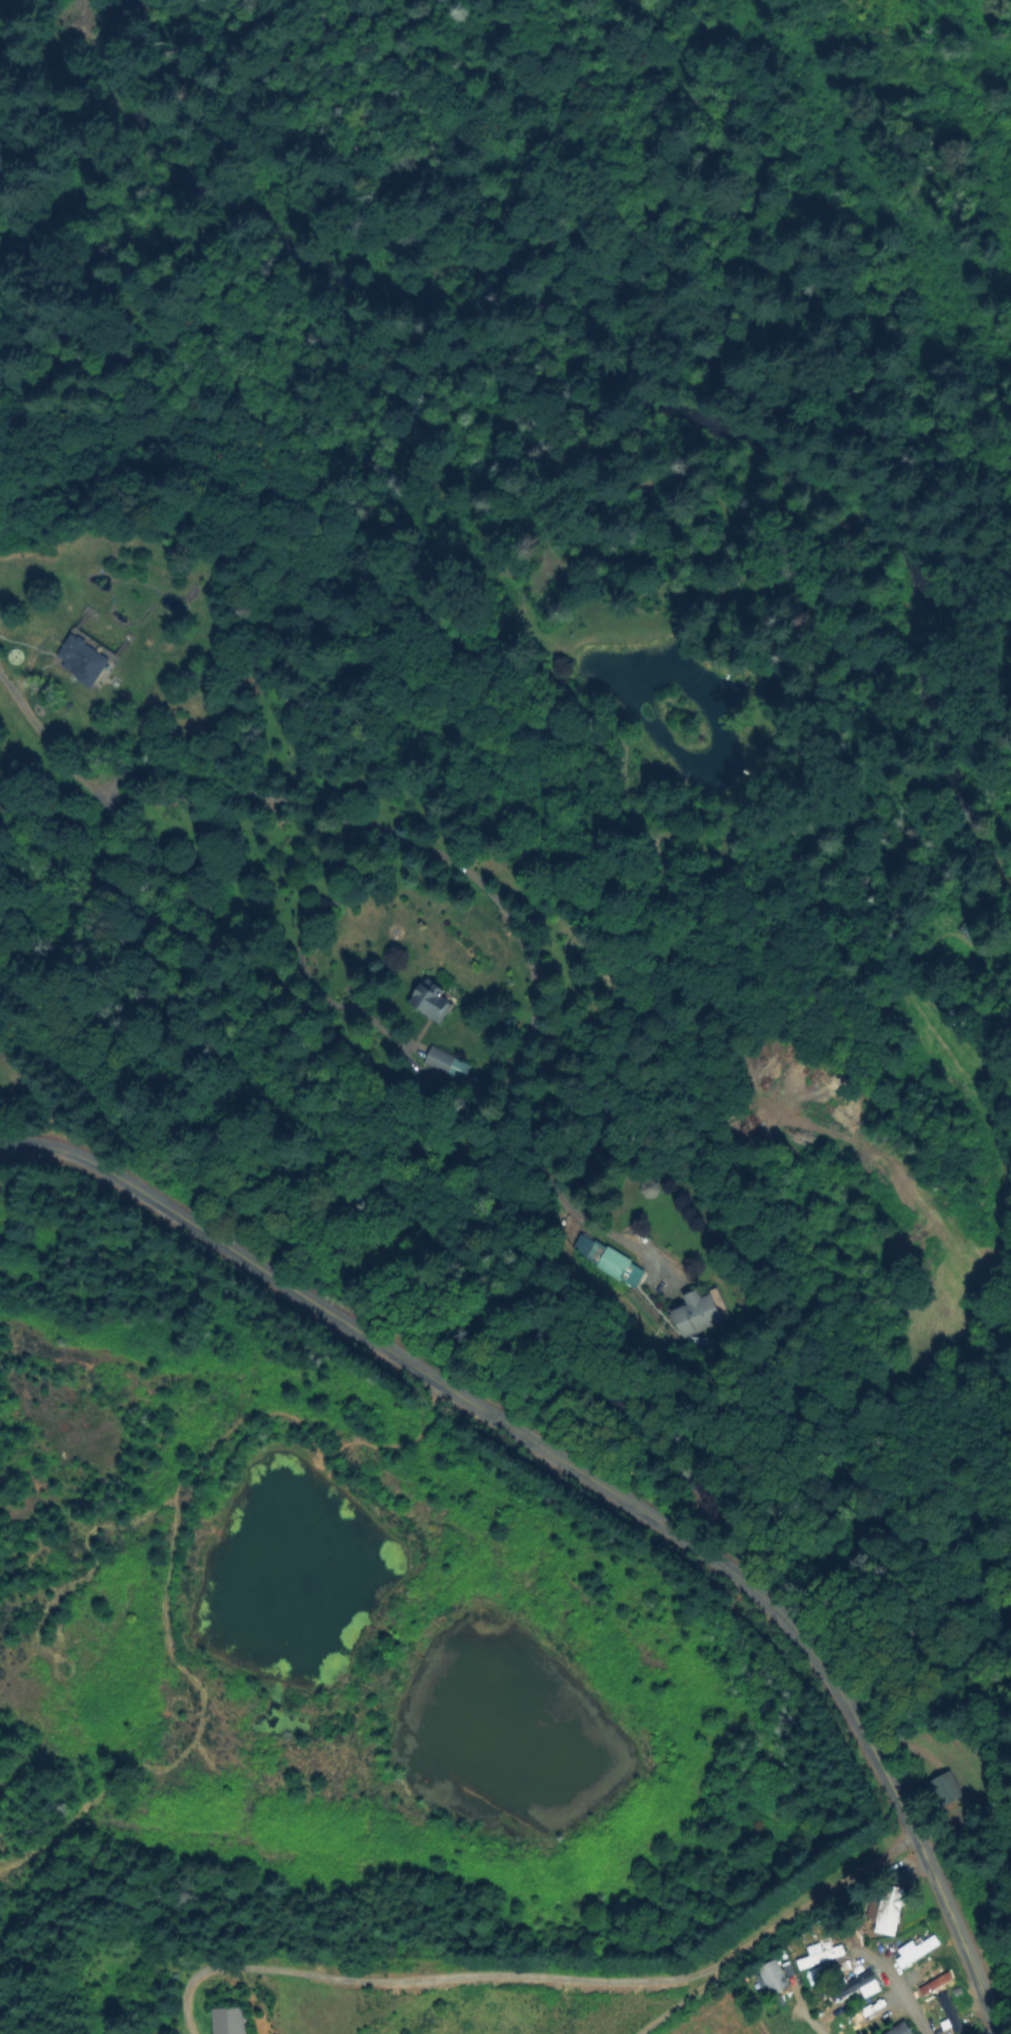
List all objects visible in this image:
building: (29, 648)
road: (45, 741)
road: (399, 840)
building: (967, 931)
road: (83, 973)
building: (433, 999)
building: (440, 1059)
building: (650, 1188)
building: (615, 1263)
building: (697, 1312)
building: (701, 1341)
road: (692, 1424)
road: (603, 1482)
building: (943, 1791)
building: (888, 1908)
building: (914, 1951)
building: (825, 1956)
road: (543, 1975)
building: (774, 1977)
building: (851, 1987)
road: (901, 1995)
building: (229, 2020)
road: (809, 2020)
building: (955, 2021)
building: (899, 2030)
road: (996, 2033)

